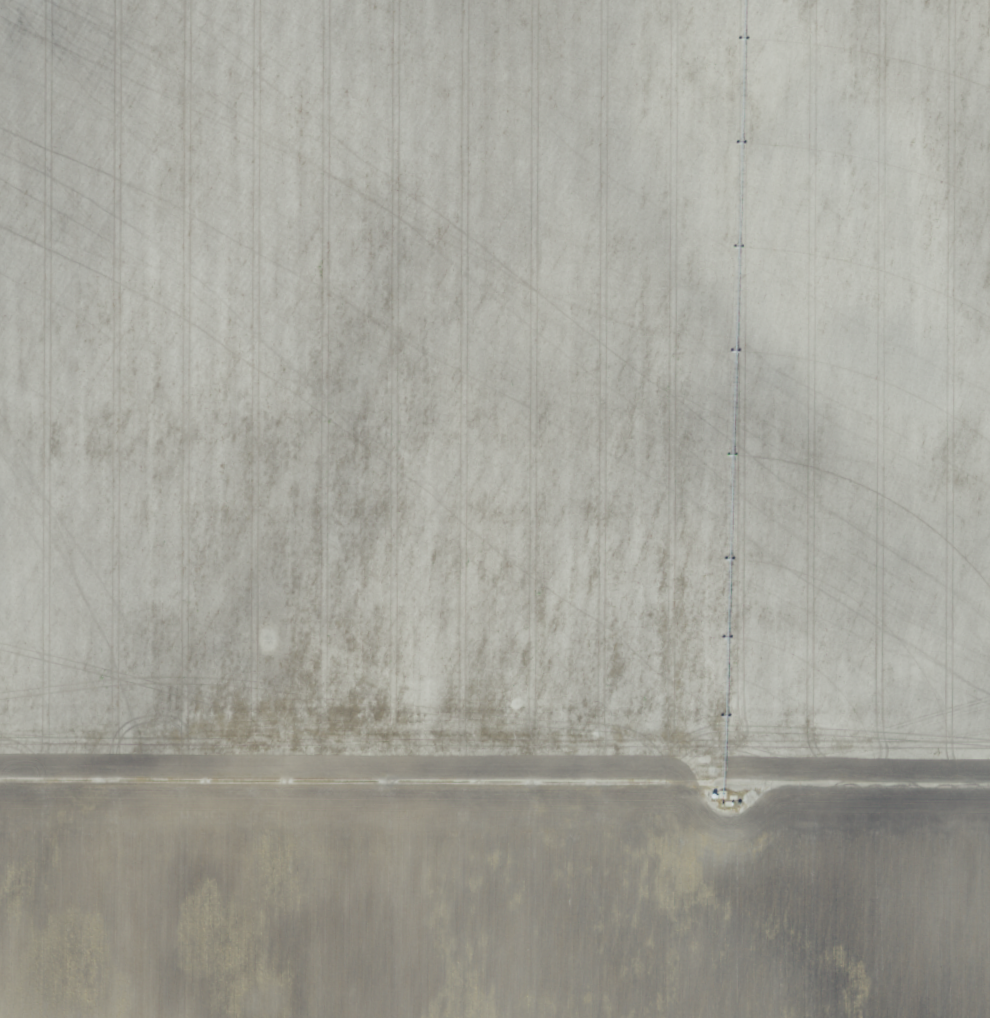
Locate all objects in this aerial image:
road: (864, 783)

